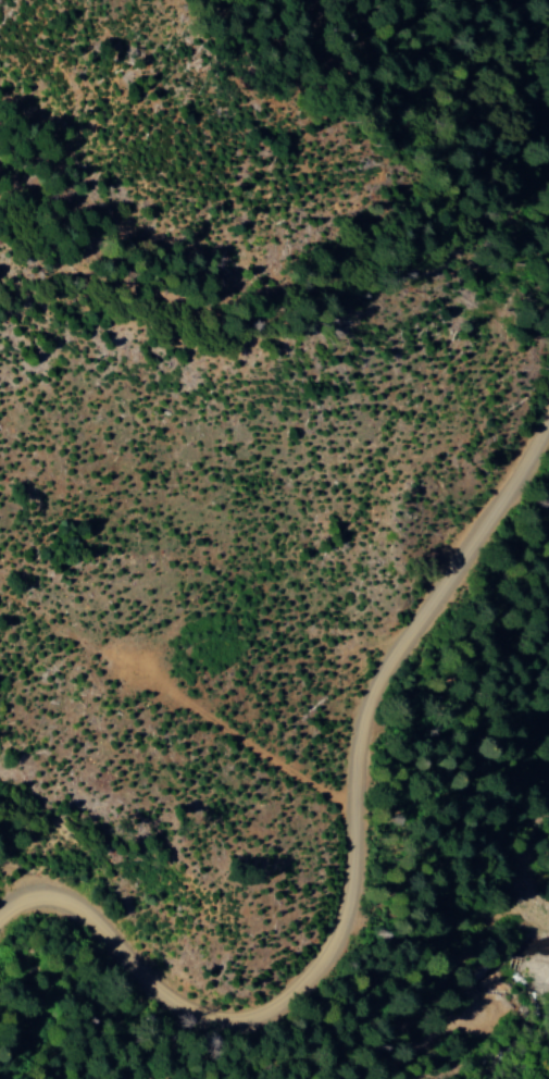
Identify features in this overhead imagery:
road: (178, 730)
road: (339, 854)

